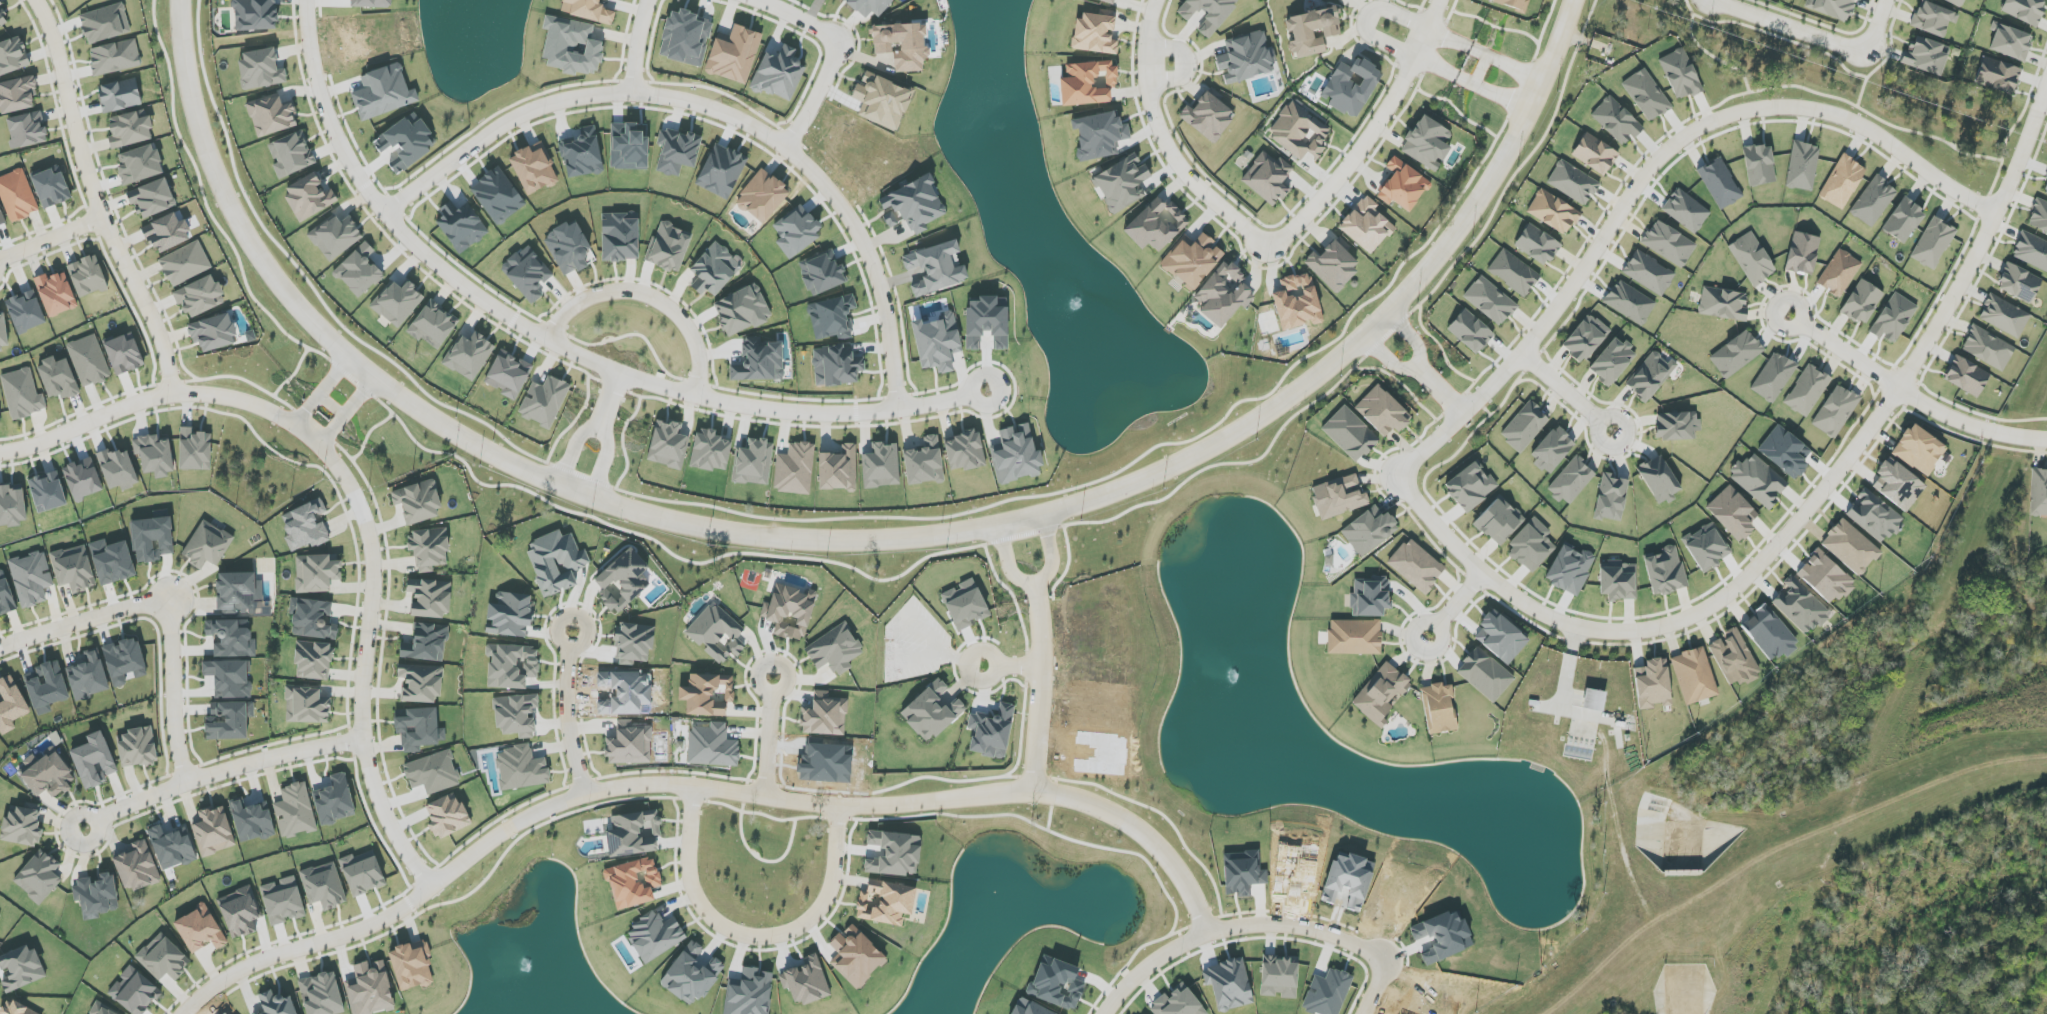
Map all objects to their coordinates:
building: (1337, 0)
building: (1108, 1)
building: (1956, 2)
building: (371, 3)
building: (1513, 3)
building: (868, 6)
building: (1832, 8)
building: (588, 10)
building: (2025, 10)
building: (1208, 13)
road: (1750, 13)
building: (255, 15)
building: (3, 18)
road: (1366, 19)
building: (1933, 19)
building: (105, 23)
road: (1892, 25)
building: (1312, 31)
building: (1095, 34)
building: (685, 38)
road: (1783, 38)
building: (2010, 42)
building: (902, 45)
building: (571, 46)
road: (647, 46)
road: (1856, 49)
road: (1888, 51)
road: (843, 52)
road: (1707, 52)
building: (734, 54)
building: (13, 56)
building: (1926, 56)
building: (115, 57)
building: (1245, 58)
building: (261, 69)
building: (779, 74)
building: (1680, 74)
road: (1868, 75)
building: (1998, 75)
building: (1087, 83)
building: (1351, 87)
building: (383, 92)
building: (17, 94)
building: (120, 95)
building: (1646, 95)
building: (882, 101)
road: (1855, 106)
road: (1703, 108)
road: (729, 113)
building: (271, 115)
building: (1208, 117)
building: (1616, 121)
road: (2014, 126)
building: (130, 129)
building: (27, 130)
building: (1300, 131)
building: (1099, 135)
road: (1371, 136)
road: (1163, 140)
building: (405, 143)
building: (1427, 143)
building: (677, 151)
building: (291, 154)
building: (1595, 154)
building: (139, 164)
building: (1759, 165)
building: (1803, 166)
building: (534, 169)
building: (721, 170)
road: (1648, 172)
building: (1268, 178)
building: (1573, 182)
building: (1842, 182)
building: (1122, 183)
building: (1720, 183)
building: (1403, 186)
building: (2045, 187)
building: (51, 188)
building: (17, 195)
building: (762, 196)
building: (309, 197)
building: (152, 198)
road: (94, 200)
building: (1873, 201)
building: (912, 205)
building: (1553, 212)
building: (2039, 216)
building: (1, 219)
building: (1903, 220)
building: (1156, 225)
building: (1366, 225)
building: (461, 226)
road: (413, 231)
building: (167, 233)
building: (335, 236)
building: (620, 237)
road: (51, 240)
building: (1933, 243)
building: (1537, 244)
building: (1669, 244)
building: (669, 248)
building: (2031, 251)
building: (1803, 253)
building: (1752, 259)
building: (1191, 260)
building: (185, 264)
building: (1333, 266)
building: (935, 268)
building: (714, 270)
building: (358, 271)
building: (1513, 272)
building: (527, 273)
building: (822, 273)
building: (1649, 273)
building: (1839, 273)
building: (87, 276)
building: (2019, 283)
building: (56, 294)
building: (1223, 294)
road: (660, 296)
building: (200, 297)
building: (1490, 301)
fountain: (1080, 302)
building: (1297, 302)
building: (1630, 302)
building: (1862, 302)
building: (398, 303)
building: (1723, 304)
building: (26, 312)
building: (2004, 316)
building: (1893, 318)
building: (987, 322)
building: (433, 325)
building: (1470, 331)
building: (3, 332)
building: (213, 332)
building: (1585, 338)
building: (937, 342)
building: (1988, 348)
building: (124, 354)
building: (1736, 354)
building: (469, 356)
building: (89, 361)
building: (1612, 361)
building: (760, 364)
building: (836, 366)
road: (1417, 366)
building: (509, 375)
building: (1650, 376)
building: (1966, 376)
building: (1773, 377)
building: (58, 379)
road: (1441, 390)
road: (320, 391)
building: (1807, 391)
road: (1568, 392)
building: (22, 394)
road: (1909, 394)
building: (544, 401)
road: (746, 404)
road: (331, 405)
building: (1835, 411)
road: (1972, 411)
road: (347, 412)
building: (1382, 412)
building: (0, 417)
building: (1524, 426)
building: (1677, 426)
building: (1350, 434)
road: (318, 444)
building: (668, 445)
building: (195, 450)
building: (1552, 450)
building: (1919, 450)
building: (710, 451)
building: (964, 451)
building: (155, 455)
building: (1016, 455)
building: (924, 462)
building: (753, 463)
building: (882, 466)
building: (118, 469)
building: (794, 469)
building: (838, 469)
building: (83, 479)
building: (1571, 480)
building: (1659, 480)
building: (1758, 480)
building: (1898, 484)
building: (1471, 487)
building: (47, 492)
building: (2038, 493)
building: (1339, 496)
building: (1611, 498)
building: (417, 502)
building: (12, 505)
building: (1733, 513)
building: (1874, 516)
road: (1799, 519)
building: (1499, 521)
building: (306, 527)
building: (1369, 530)
building: (152, 539)
road: (857, 540)
building: (207, 545)
building: (1531, 545)
building: (1850, 547)
building: (429, 548)
building: (112, 561)
building: (556, 562)
building: (1416, 566)
building: (73, 568)
building: (1570, 569)
building: (1665, 571)
building: (316, 572)
building: (1825, 577)
building: (31, 578)
building: (622, 580)
building: (1619, 581)
road: (1036, 582)
building: (239, 593)
building: (6, 596)
building: (1370, 597)
building: (430, 598)
building: (965, 605)
road: (1457, 605)
building: (1800, 607)
building: (791, 611)
building: (510, 615)
building: (313, 619)
road: (81, 621)
building: (717, 633)
building: (1769, 634)
building: (1354, 637)
building: (231, 638)
building: (1501, 638)
building: (426, 643)
building: (835, 650)
building: (1734, 658)
building: (313, 660)
building: (124, 661)
building: (511, 666)
road: (969, 666)
road: (1018, 666)
building: (1485, 674)
building: (1694, 676)
building: (89, 677)
building: (229, 678)
building: (420, 683)
building: (1653, 684)
building: (46, 687)
road: (1038, 688)
building: (1381, 693)
building: (708, 694)
road: (172, 695)
building: (1594, 700)
building: (10, 705)
building: (306, 705)
building: (1439, 708)
building: (931, 712)
road: (565, 713)
building: (516, 715)
building: (825, 715)
building: (229, 720)
building: (419, 729)
building: (991, 732)
road: (767, 735)
building: (629, 744)
building: (712, 746)
building: (137, 747)
building: (94, 761)
building: (520, 768)
road: (220, 772)
building: (432, 773)
building: (50, 776)
building: (335, 801)
road: (1940, 801)
road: (876, 806)
building: (295, 811)
building: (446, 816)
building: (251, 820)
building: (22, 825)
building: (214, 832)
road: (392, 832)
building: (634, 834)
building: (170, 848)
road: (461, 861)
building: (137, 867)
building: (362, 873)
building: (39, 877)
building: (633, 883)
building: (324, 886)
building: (96, 896)
building: (282, 901)
building: (886, 902)
building: (240, 912)
road: (1259, 924)
building: (200, 929)
building: (654, 935)
road: (749, 935)
road: (306, 949)
building: (163, 959)
building: (412, 966)
building: (691, 975)
building: (1280, 977)
building: (805, 981)
building: (370, 989)
building: (135, 992)
building: (321, 994)
building: (1177, 1003)
building: (276, 1004)
building: (94, 1012)

